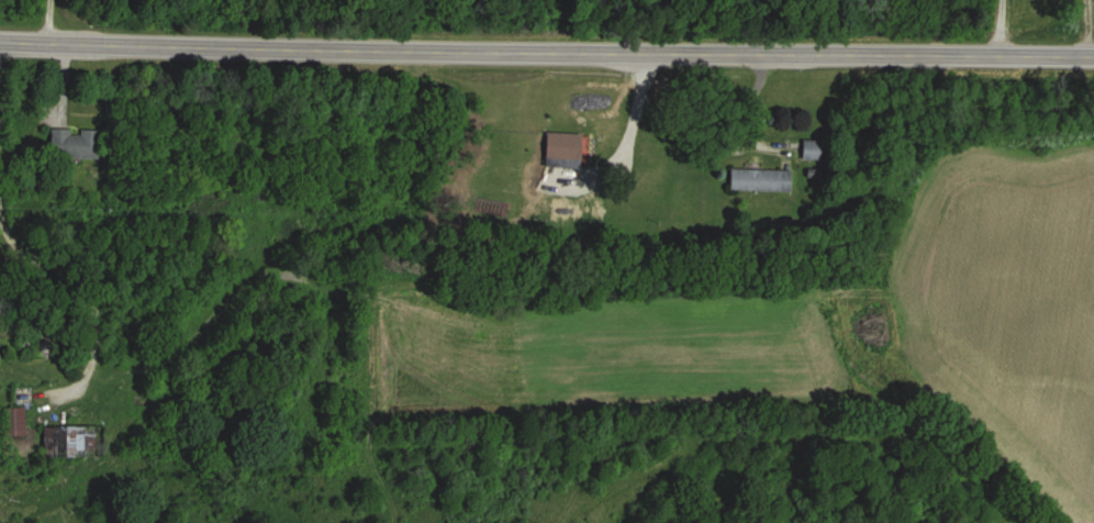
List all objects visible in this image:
road: (1005, 27)
road: (546, 53)
road: (634, 123)
building: (79, 145)
building: (766, 181)
road: (87, 290)
building: (1, 360)
building: (76, 443)

